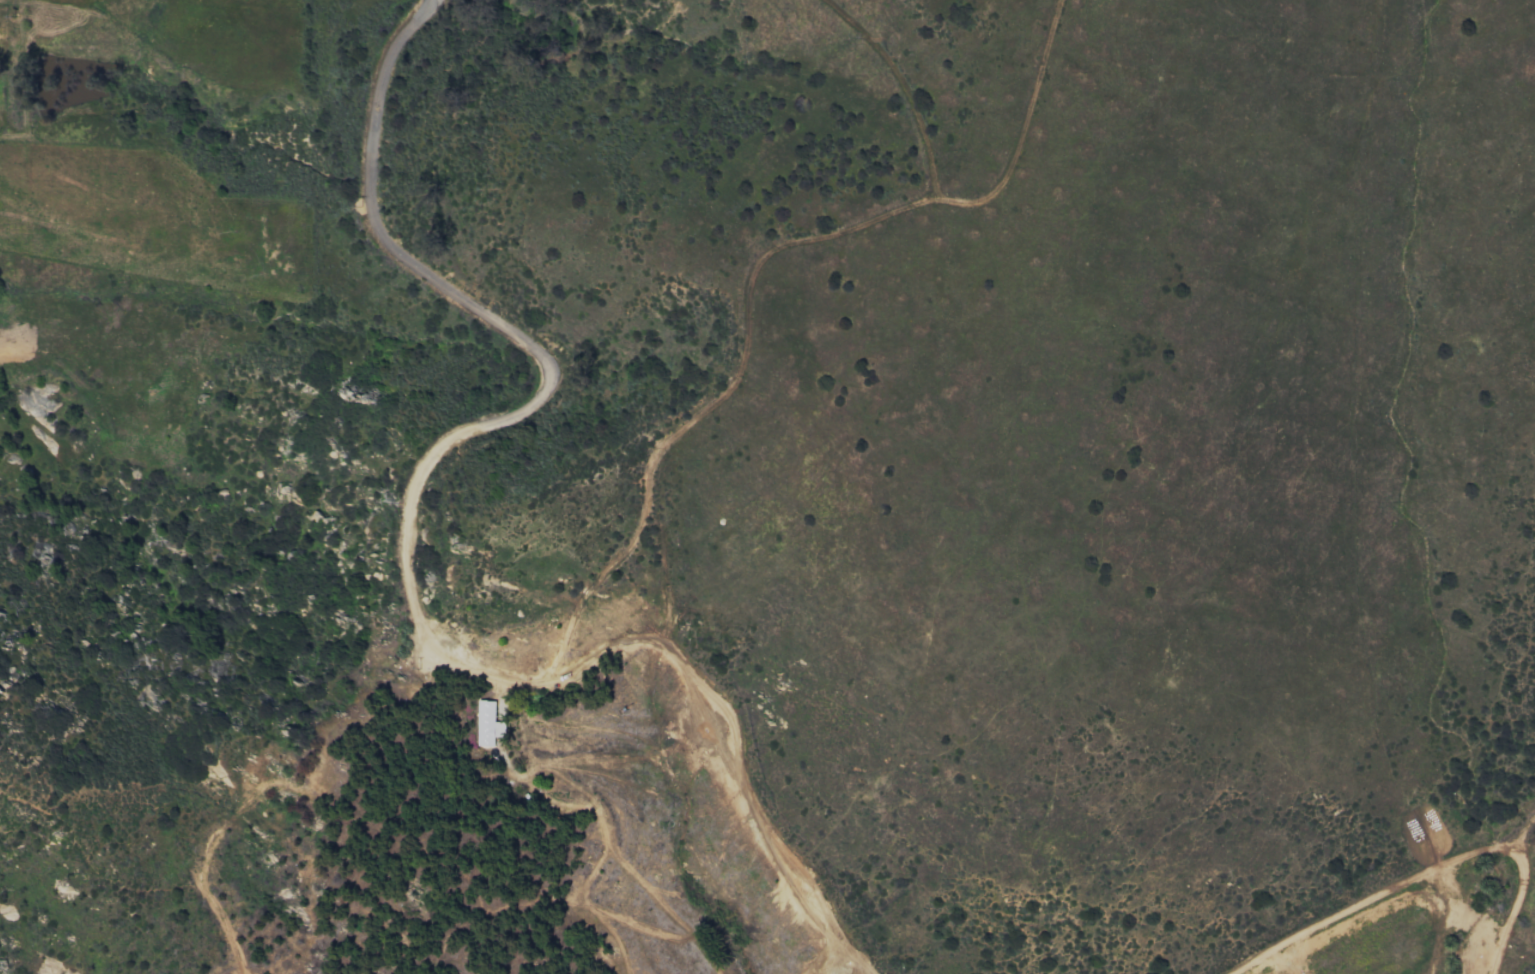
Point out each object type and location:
road: (746, 328)
road: (512, 334)
building: (487, 723)
road: (733, 735)
road: (1520, 830)
road: (1425, 868)
road: (839, 955)

